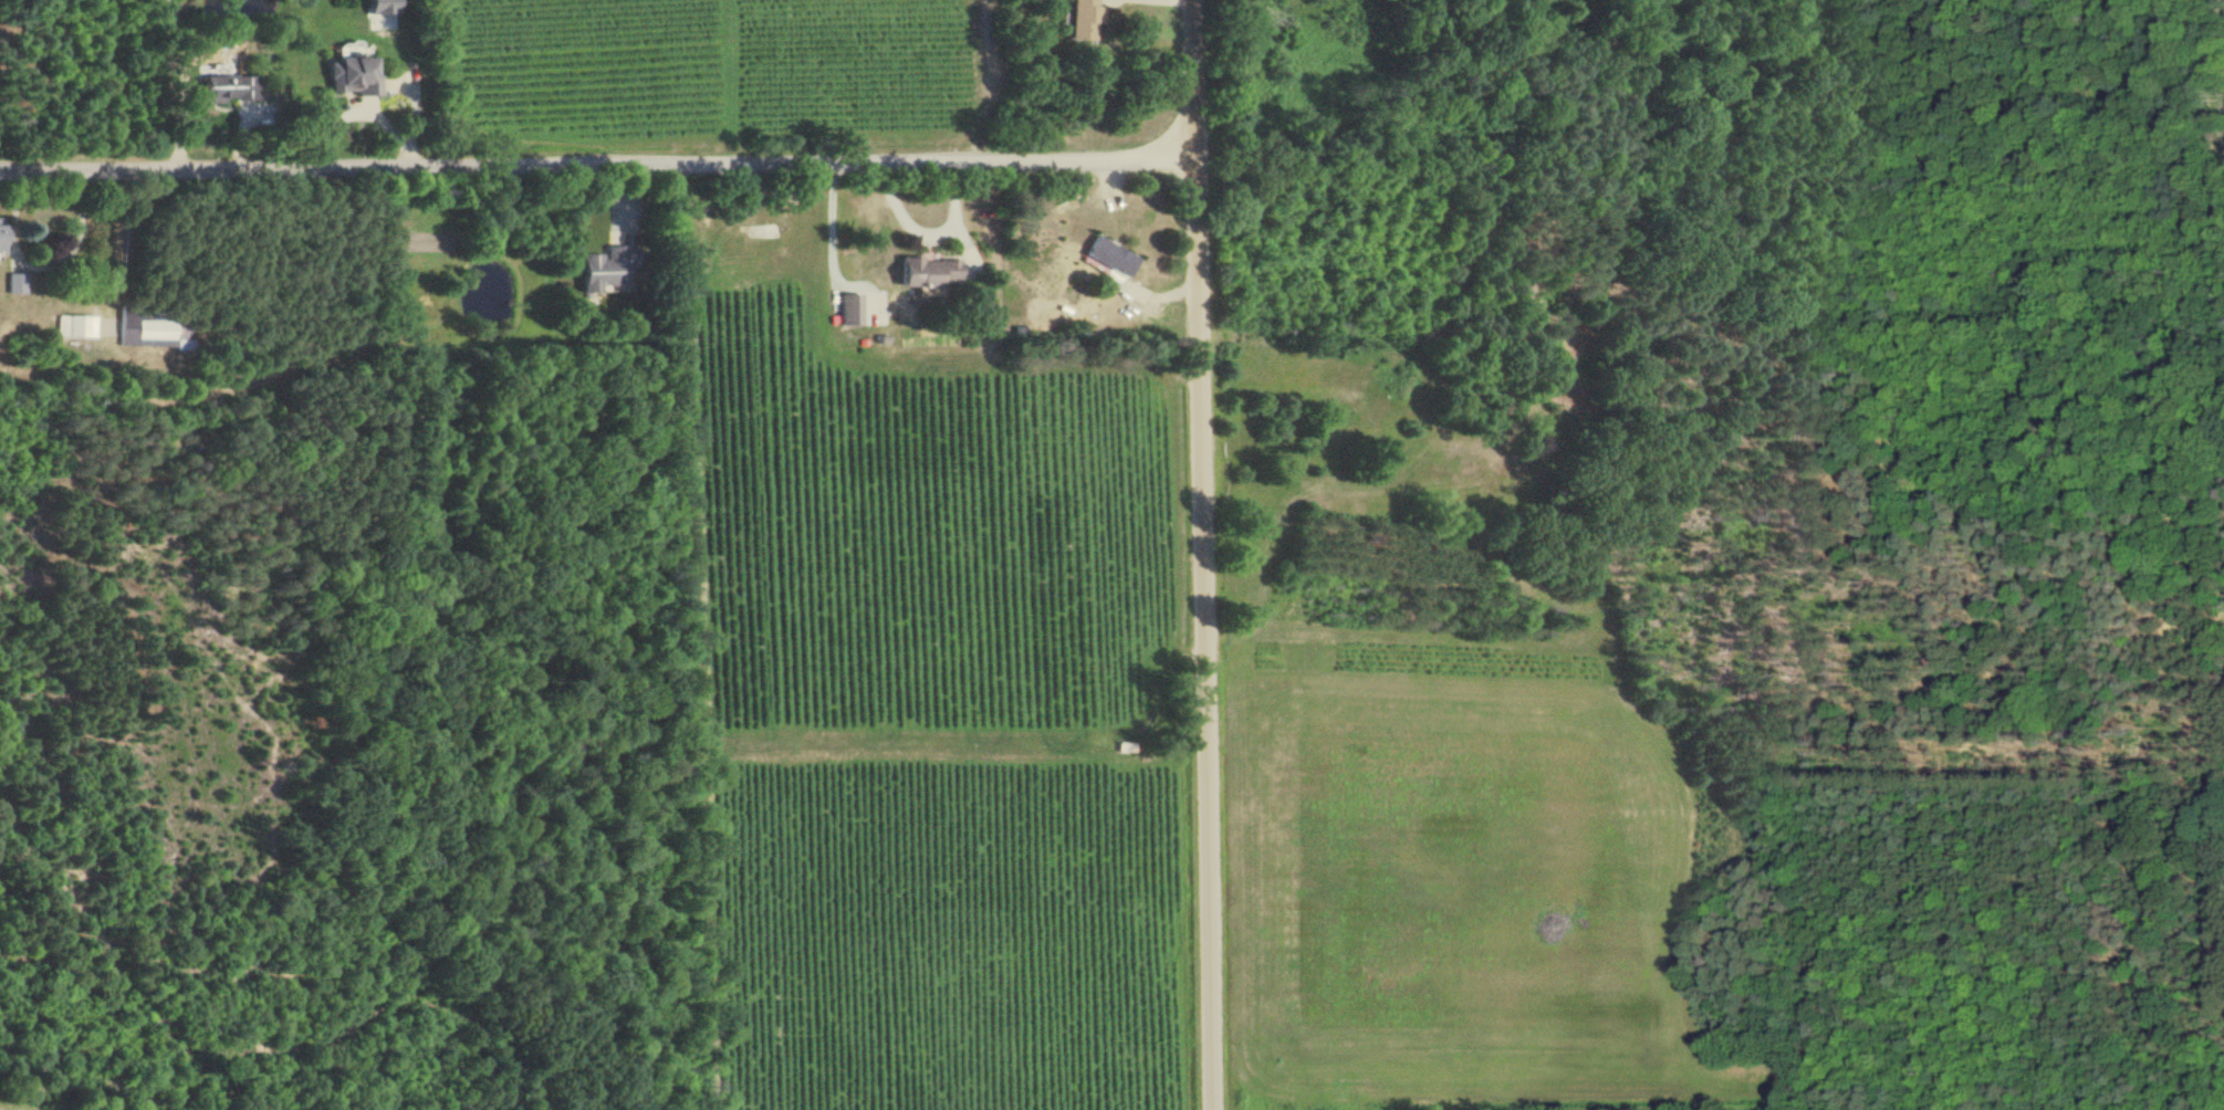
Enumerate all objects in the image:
building: (380, 7)
building: (1083, 20)
building: (348, 76)
building: (222, 88)
road: (601, 166)
road: (931, 231)
building: (1, 234)
building: (1107, 256)
building: (599, 270)
building: (923, 272)
building: (15, 283)
building: (848, 308)
building: (77, 326)
road: (1205, 554)

